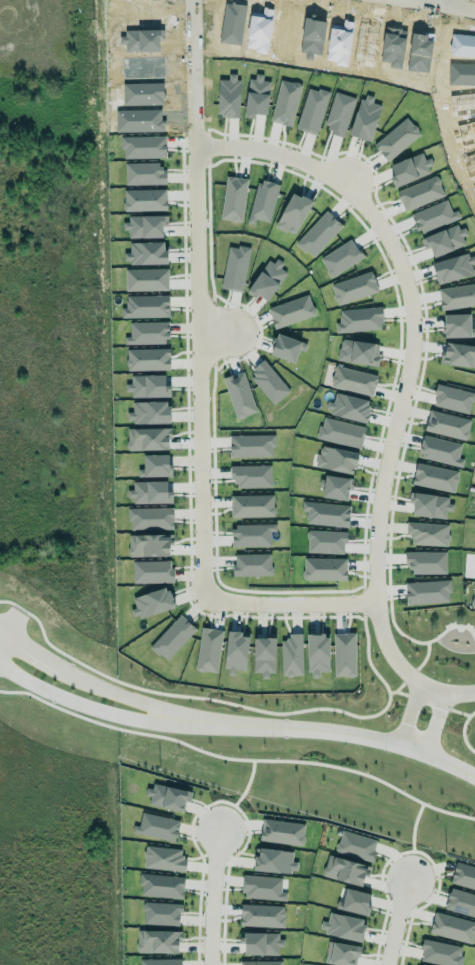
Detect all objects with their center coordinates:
road: (447, 2)
road: (447, 5)
road: (191, 75)
building: (228, 96)
building: (256, 96)
building: (285, 102)
building: (312, 110)
building: (338, 113)
building: (365, 118)
building: (396, 138)
building: (143, 146)
road: (235, 149)
building: (410, 168)
building: (144, 173)
building: (419, 193)
building: (233, 198)
building: (144, 199)
building: (263, 201)
building: (293, 213)
building: (433, 216)
building: (143, 226)
building: (318, 233)
building: (444, 239)
building: (145, 253)
building: (340, 257)
building: (235, 267)
building: (453, 267)
building: (146, 279)
building: (267, 279)
building: (353, 287)
building: (457, 296)
building: (145, 306)
building: (291, 311)
building: (359, 319)
building: (457, 325)
building: (148, 332)
building: (285, 347)
building: (358, 351)
building: (456, 354)
building: (147, 358)
building: (353, 380)
building: (268, 382)
building: (148, 385)
building: (239, 394)
building: (451, 396)
building: (349, 406)
building: (149, 412)
building: (446, 423)
building: (340, 432)
building: (145, 435)
building: (251, 445)
building: (439, 450)
building: (336, 459)
building: (155, 465)
building: (250, 476)
building: (435, 477)
building: (335, 487)
building: (148, 489)
building: (429, 504)
building: (252, 505)
building: (326, 513)
building: (150, 518)
building: (428, 533)
building: (252, 534)
building: (326, 541)
building: (148, 544)
building: (426, 562)
building: (252, 564)
building: (325, 568)
building: (151, 571)
building: (427, 591)
building: (151, 602)
building: (172, 637)
building: (208, 647)
road: (28, 652)
building: (235, 652)
building: (291, 654)
building: (317, 654)
building: (344, 654)
building: (264, 655)
road: (445, 693)
road: (116, 695)
road: (83, 708)
road: (408, 714)
road: (433, 723)
road: (329, 729)
building: (167, 796)
building: (157, 826)
building: (282, 831)
building: (356, 845)
building: (163, 858)
building: (274, 860)
building: (345, 870)
building: (463, 875)
building: (161, 885)
building: (262, 887)
road: (211, 898)
building: (354, 901)
building: (460, 901)
building: (161, 913)
building: (262, 915)
road: (393, 916)
building: (343, 926)
building: (452, 927)
building: (157, 939)
building: (439, 952)
building: (341, 953)
building: (159, 961)
building: (260, 962)

